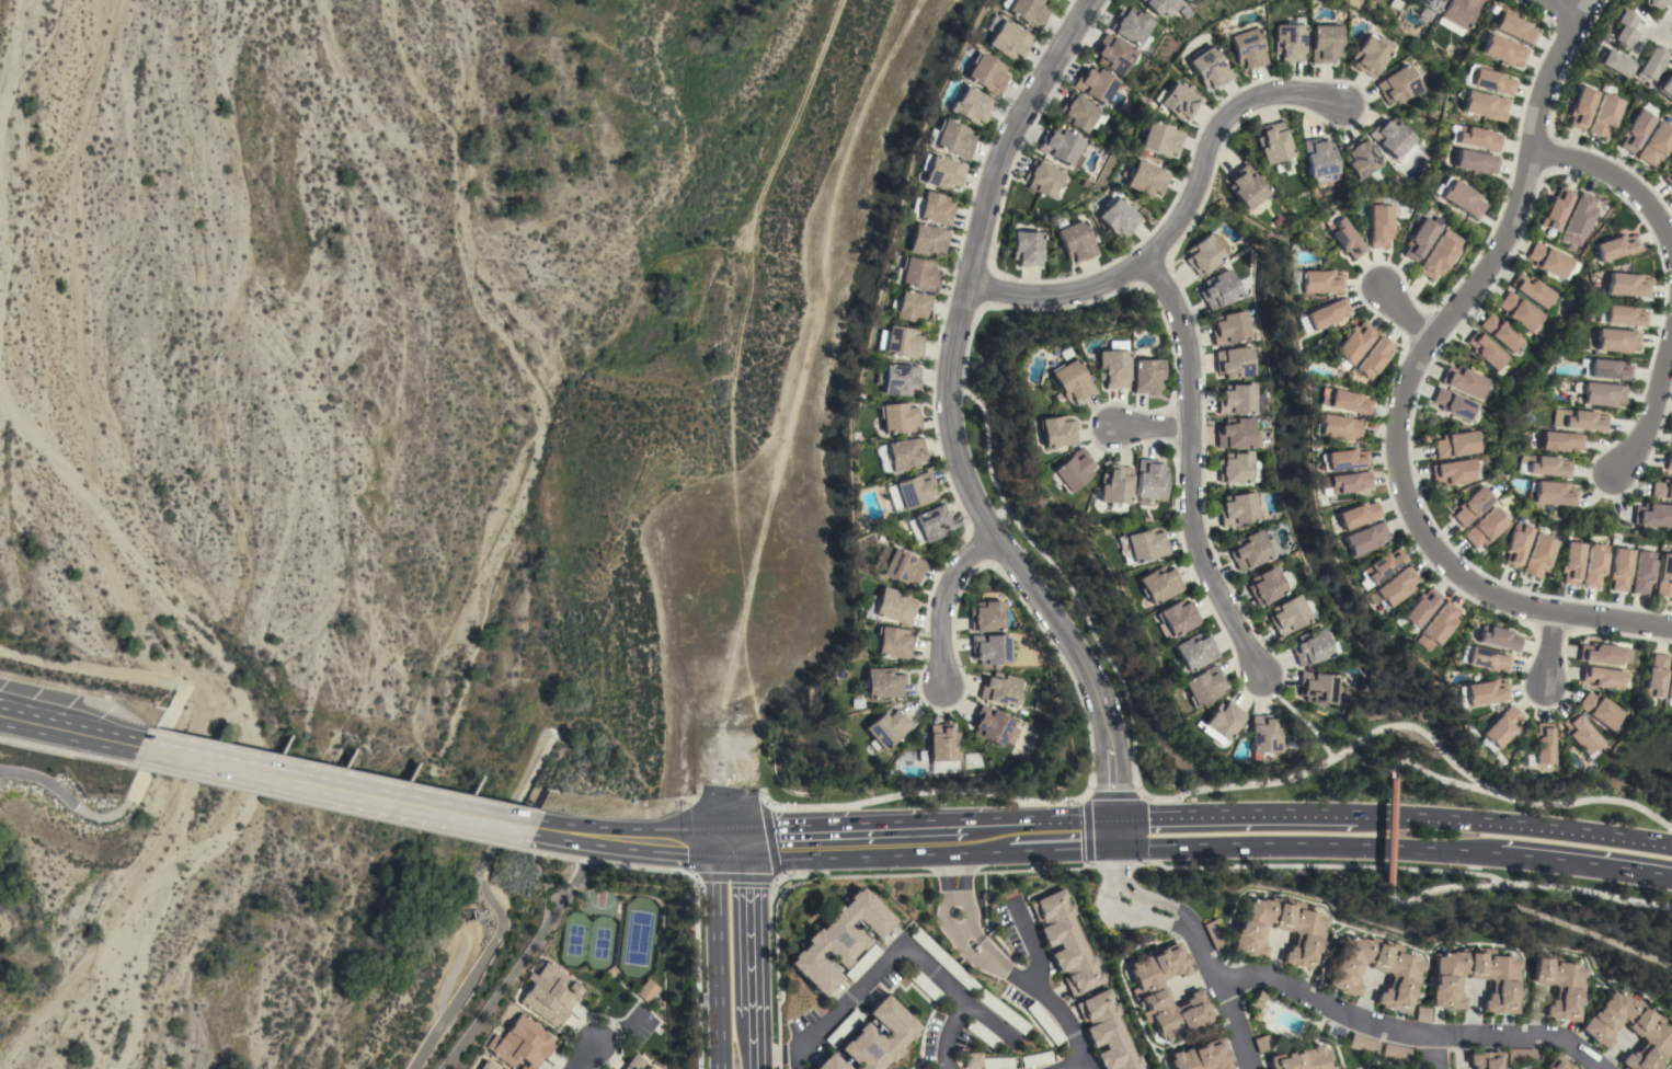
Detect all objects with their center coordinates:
building: (1186, 0)
building: (1654, 3)
building: (1156, 4)
road: (1561, 7)
road: (1578, 7)
building: (1428, 8)
building: (1028, 12)
building: (1458, 12)
building: (1131, 25)
building: (1514, 27)
road: (1669, 28)
building: (1624, 31)
road: (1649, 31)
building: (1008, 39)
building: (1287, 42)
building: (1322, 43)
building: (1246, 48)
building: (1503, 50)
building: (1113, 54)
building: (1370, 55)
building: (1616, 62)
building: (1651, 62)
building: (1207, 67)
building: (986, 74)
building: (1488, 80)
building: (1095, 84)
building: (1397, 84)
building: (1667, 88)
building: (1176, 101)
building: (970, 105)
building: (1484, 105)
building: (1580, 107)
building: (1078, 112)
building: (1604, 116)
building: (1635, 131)
building: (1390, 137)
building: (1477, 138)
building: (953, 139)
building: (1159, 139)
building: (1273, 142)
building: (1657, 143)
building: (1062, 147)
building: (1319, 158)
building: (1361, 159)
building: (1476, 161)
building: (1671, 168)
building: (942, 173)
building: (1042, 177)
building: (1145, 179)
building: (1669, 179)
road: (1619, 181)
building: (1246, 187)
building: (1461, 197)
building: (935, 208)
building: (1556, 209)
building: (1116, 218)
road: (1178, 218)
building: (1579, 218)
building: (1378, 226)
building: (1344, 238)
building: (1419, 239)
building: (926, 241)
building: (1076, 241)
building: (1615, 246)
building: (1027, 248)
building: (1206, 253)
building: (1439, 255)
building: (1549, 260)
building: (916, 274)
building: (1319, 281)
building: (1627, 285)
building: (1219, 289)
building: (1533, 290)
building: (912, 307)
road: (1402, 310)
building: (1521, 312)
building: (1322, 315)
building: (1625, 315)
building: (1229, 327)
building: (1500, 332)
building: (1616, 340)
building: (901, 343)
building: (1353, 343)
road: (965, 347)
building: (1486, 350)
building: (1374, 357)
building: (1235, 361)
building: (1112, 368)
building: (1608, 369)
building: (1146, 376)
building: (896, 379)
building: (1072, 381)
building: (1464, 381)
road: (1402, 393)
building: (1603, 394)
building: (1237, 400)
building: (1344, 401)
building: (1454, 404)
road: (1650, 409)
building: (898, 417)
building: (1578, 419)
road: (947, 423)
road: (1148, 426)
building: (1337, 427)
building: (1056, 430)
building: (1237, 434)
building: (1560, 441)
building: (1455, 445)
building: (1671, 448)
building: (904, 453)
building: (1344, 459)
building: (1669, 461)
building: (1545, 464)
building: (1235, 468)
road: (1188, 469)
building: (1073, 470)
building: (1454, 471)
building: (1149, 479)
building: (1348, 482)
building: (1115, 485)
building: (914, 490)
building: (1662, 490)
building: (1553, 493)
building: (1471, 506)
building: (1238, 508)
building: (1356, 515)
building: (1653, 515)
building: (928, 525)
building: (1486, 527)
building: (1364, 538)
building: (1142, 545)
building: (1515, 545)
building: (1249, 550)
building: (1538, 555)
building: (1570, 562)
building: (1594, 564)
building: (903, 567)
building: (1379, 567)
building: (1619, 570)
building: (1641, 572)
building: (1664, 576)
building: (1158, 584)
road: (1069, 585)
building: (1266, 586)
building: (1393, 588)
road: (941, 601)
building: (893, 606)
building: (1420, 608)
building: (1289, 614)
building: (986, 617)
building: (1177, 617)
building: (1436, 625)
building: (1498, 637)
building: (893, 642)
building: (1312, 647)
building: (990, 648)
road: (1548, 651)
building: (1193, 652)
building: (1604, 654)
building: (1486, 659)
building: (1656, 676)
building: (1603, 677)
building: (883, 682)
building: (1203, 686)
building: (1670, 687)
building: (1319, 688)
building: (999, 689)
building: (1485, 692)
building: (1600, 710)
road: (1296, 714)
building: (1221, 722)
building: (994, 726)
road: (70, 728)
building: (1500, 728)
building: (886, 729)
building: (1581, 734)
building: (1264, 735)
building: (1542, 745)
building: (943, 748)
road: (1343, 749)
road: (62, 751)
road: (203, 754)
road: (337, 788)
road: (924, 791)
road: (1157, 798)
road: (1523, 803)
road: (325, 807)
road: (118, 809)
road: (1232, 817)
road: (1512, 826)
road: (1086, 827)
traffic signals: (1114, 832)
road: (1386, 834)
road: (930, 837)
road: (623, 841)
road: (731, 847)
traffic signals: (747, 847)
road: (1303, 847)
traffic signals: (714, 848)
road: (554, 855)
road: (1584, 864)
road: (1406, 869)
road: (772, 878)
road: (1435, 888)
road: (1132, 892)
road: (1115, 904)
road: (1137, 908)
road: (496, 910)
road: (695, 917)
building: (1215, 933)
building: (1250, 933)
park: (637, 938)
building: (838, 940)
building: (1066, 942)
building: (928, 946)
road: (905, 951)
road: (520, 955)
road: (718, 957)
road: (749, 957)
road: (999, 962)
building: (862, 963)
building: (1344, 975)
building: (960, 976)
building: (1448, 981)
building: (925, 985)
building: (1561, 986)
building: (646, 990)
building: (1166, 992)
building: (548, 995)
road: (1219, 995)
building: (1256, 1005)
building: (1003, 1012)
building: (1422, 1014)
building: (1044, 1023)
building: (843, 1027)
building: (1650, 1030)
building: (1107, 1032)
road: (1407, 1032)
building: (982, 1034)
road: (952, 1036)
building: (873, 1039)
building: (520, 1044)
building: (1262, 1044)
building: (1363, 1044)
road: (1434, 1051)
building: (1395, 1053)
road: (584, 1054)
building: (1520, 1056)
building: (1201, 1057)
building: (1035, 1059)
building: (1301, 1059)
building: (973, 1060)
road: (1069, 1060)
building: (1486, 1060)
building: (634, 1062)
building: (997, 1062)
building: (1557, 1064)
building: (485, 1065)
building: (650, 1068)

